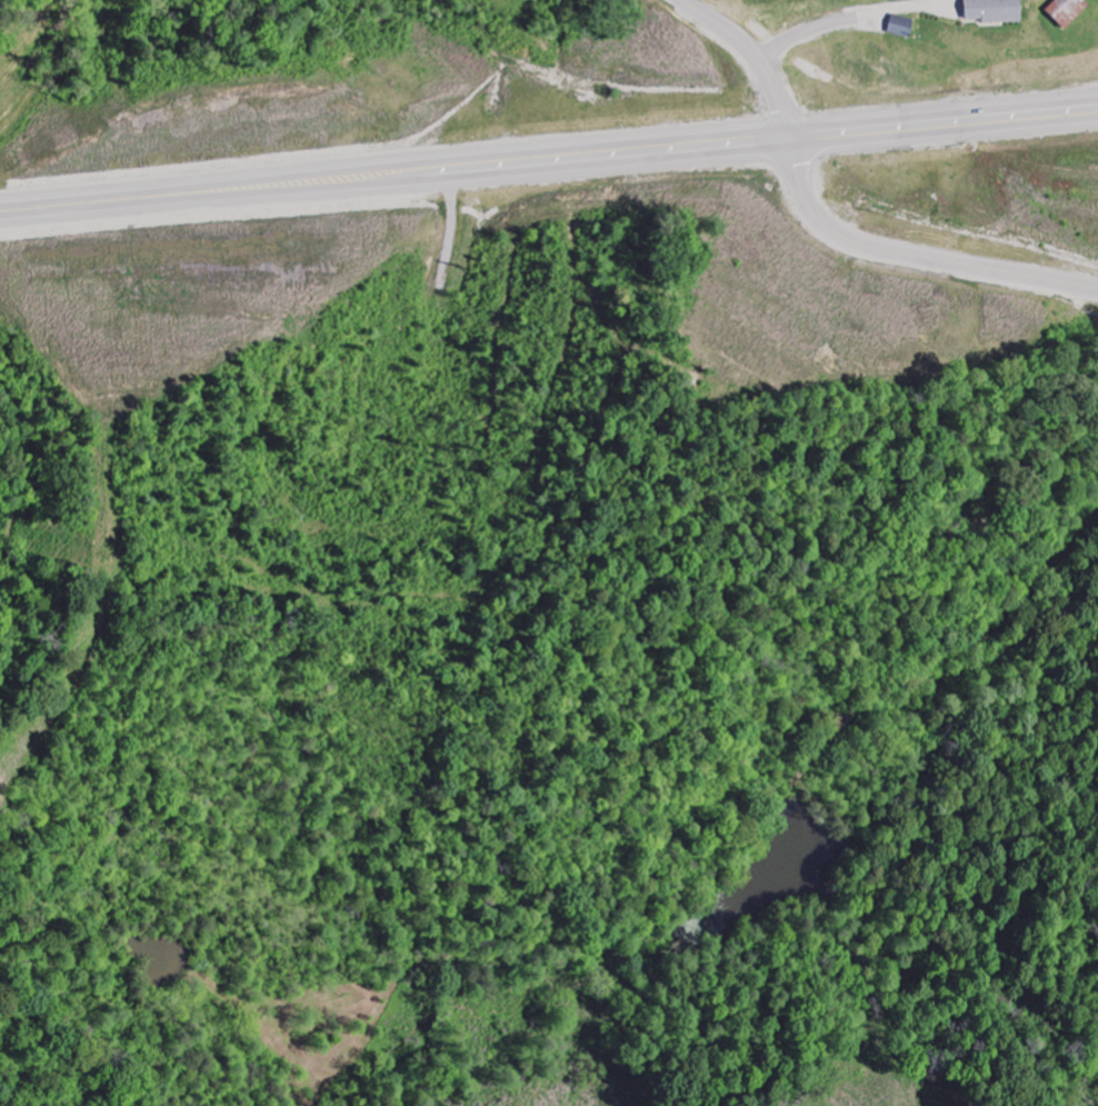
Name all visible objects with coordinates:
building: (996, 11)
building: (1068, 11)
building: (901, 27)
road: (548, 153)
road: (825, 225)

